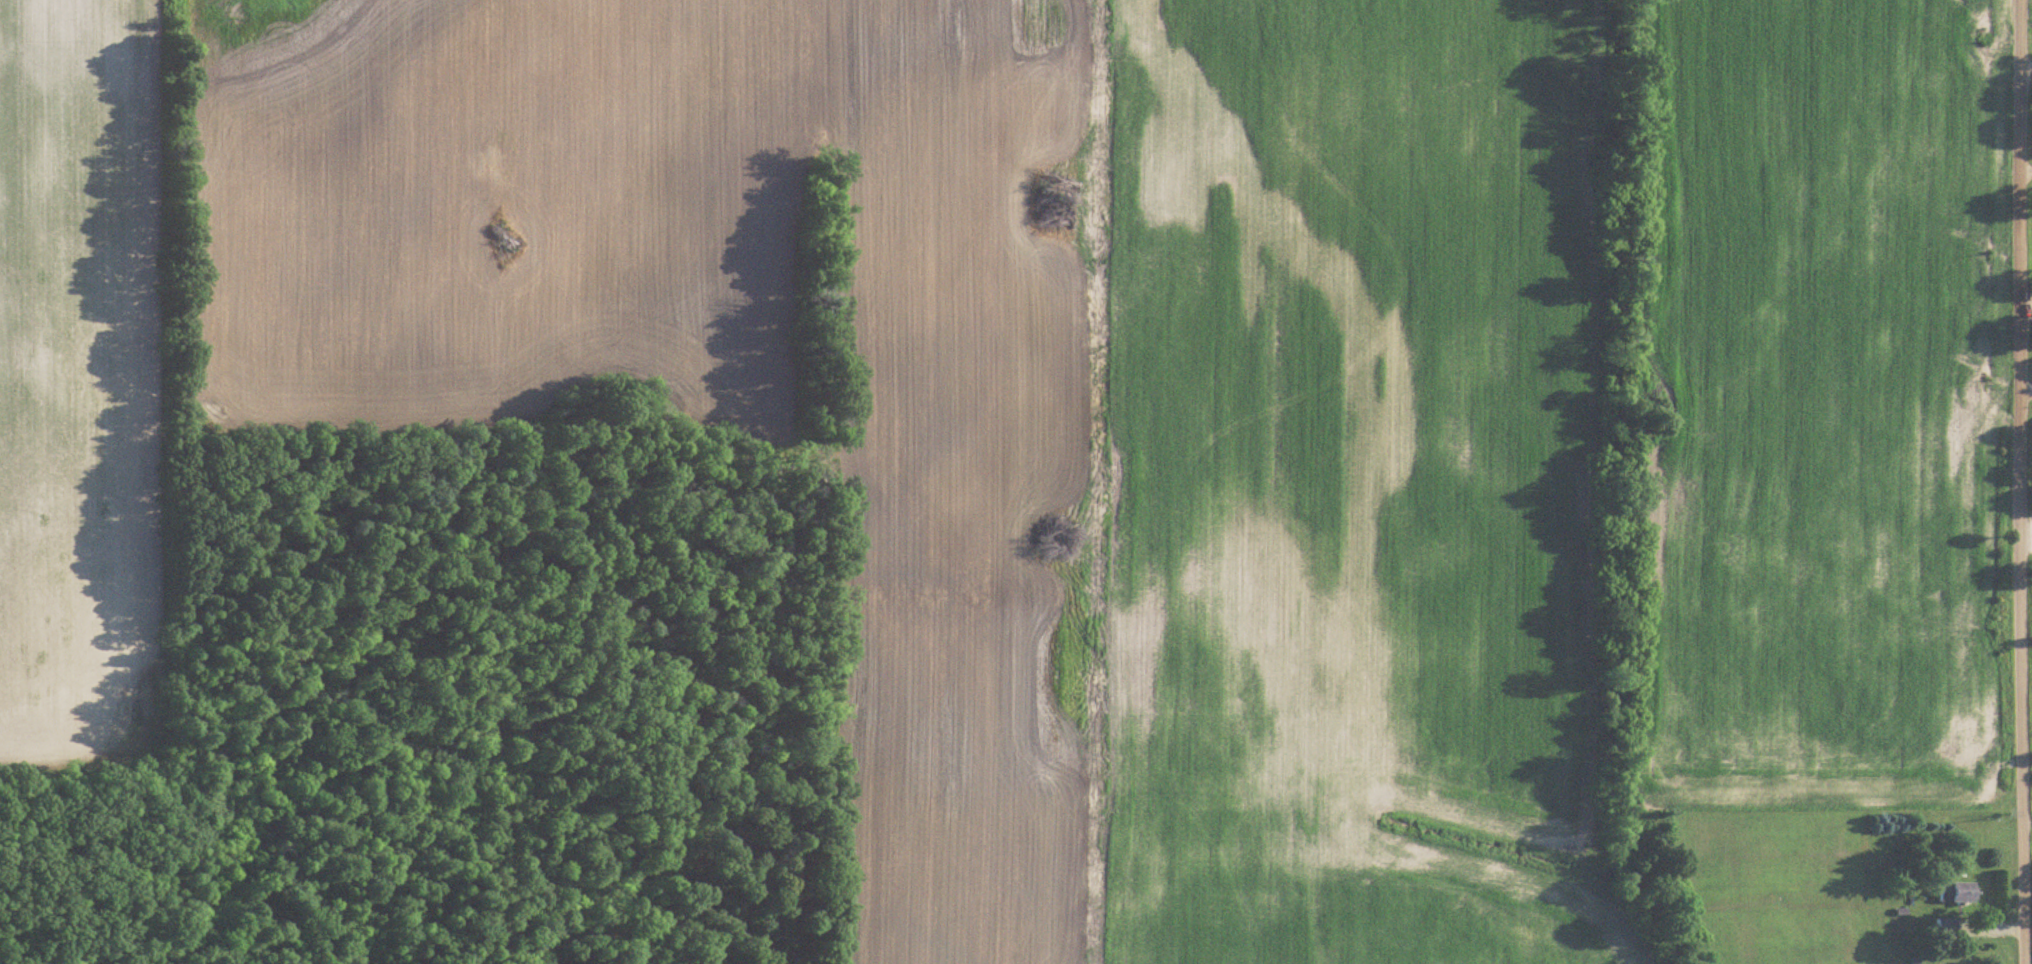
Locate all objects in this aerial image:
road: (2026, 65)
road: (2026, 170)
road: (2025, 382)
road: (2018, 482)
building: (1949, 892)
building: (1936, 927)

